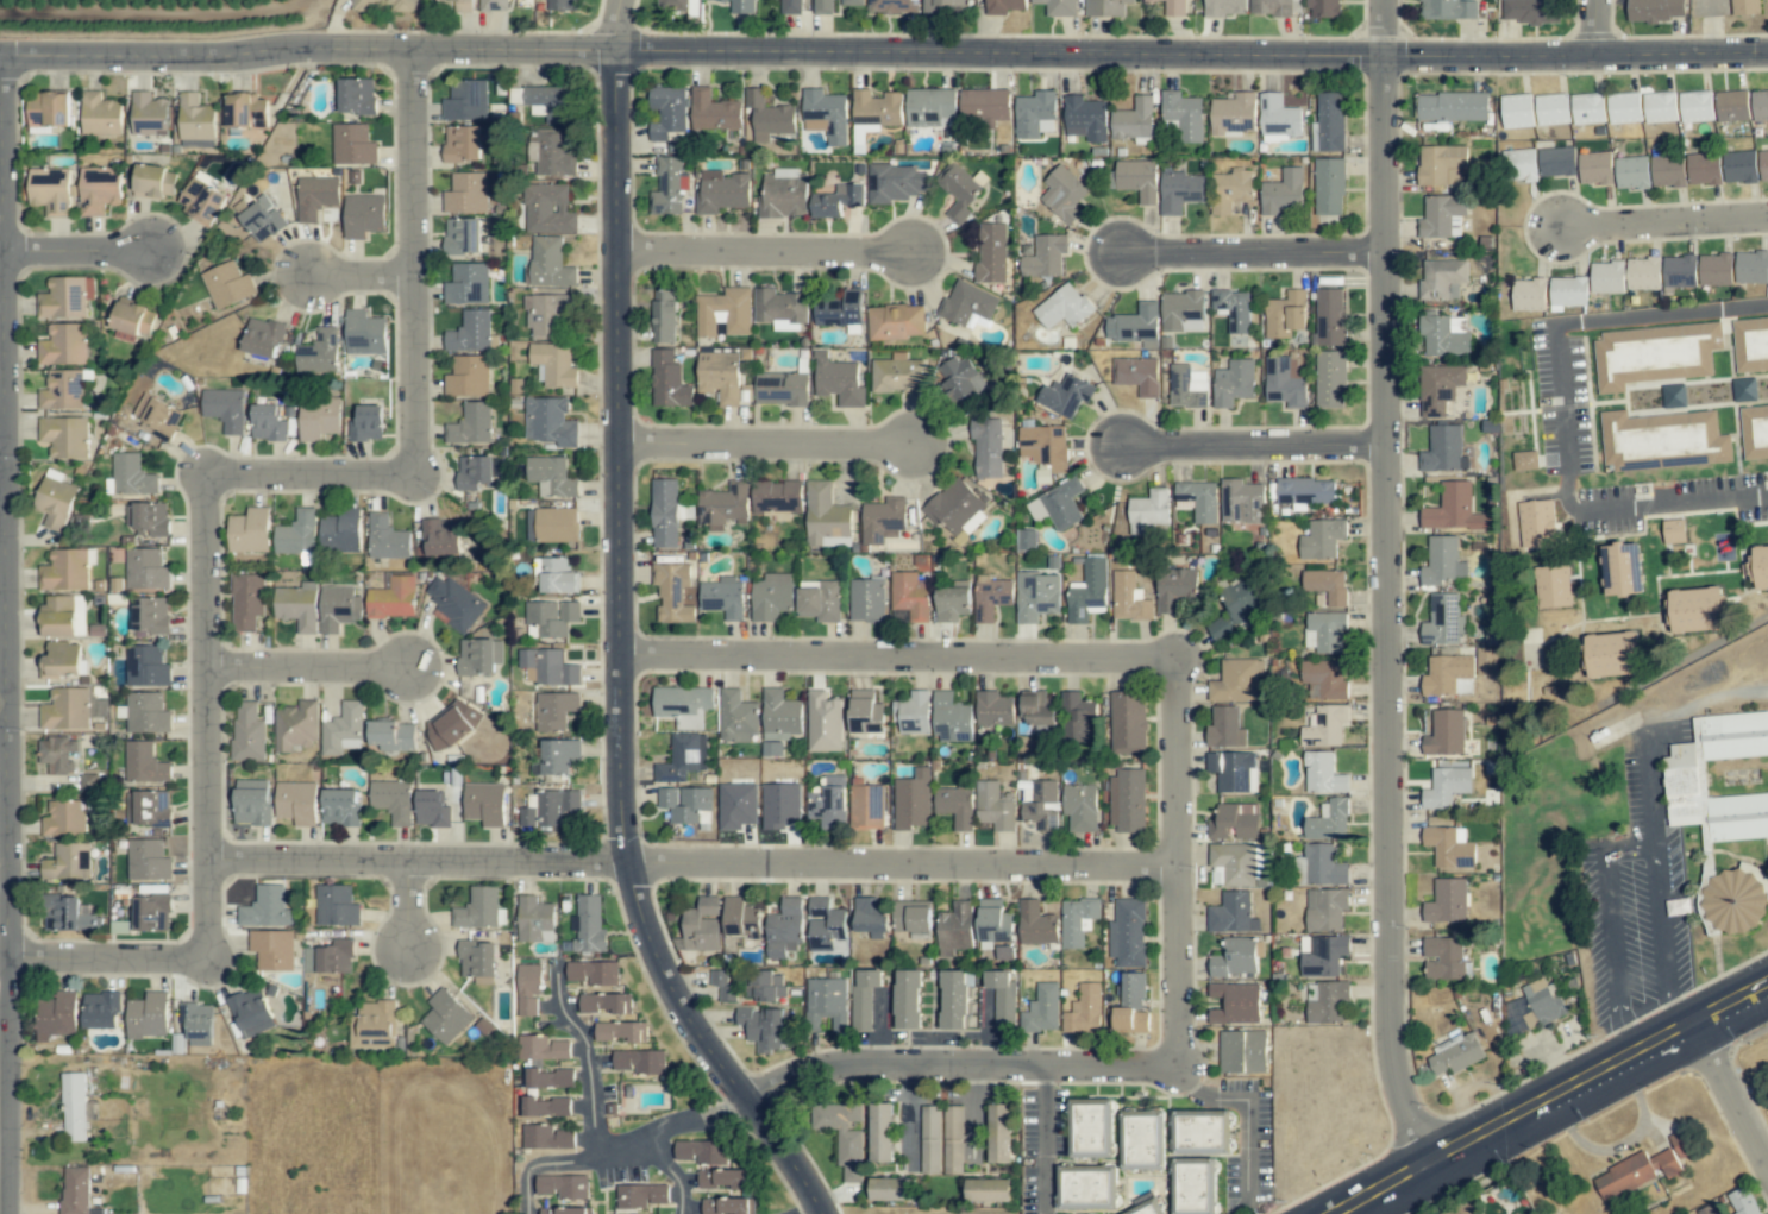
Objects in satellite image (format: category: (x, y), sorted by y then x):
building: (1172, 0)
building: (1240, 0)
building: (745, 4)
building: (384, 5)
building: (462, 5)
building: (494, 5)
building: (560, 5)
building: (892, 6)
building: (933, 6)
building: (1432, 6)
building: (1744, 7)
building: (1657, 8)
building: (1530, 11)
crop: (170, 24)
road: (1711, 26)
road: (1597, 30)
road: (884, 55)
building: (357, 96)
building: (465, 101)
building: (548, 103)
building: (984, 105)
building: (1760, 105)
building: (1695, 106)
building: (1731, 106)
building: (930, 107)
building: (1452, 107)
building: (1660, 107)
building: (1587, 108)
building: (1622, 108)
building: (48, 109)
building: (1180, 109)
building: (1551, 109)
building: (246, 111)
building: (874, 111)
building: (1517, 111)
building: (713, 112)
building: (666, 113)
building: (1228, 113)
building: (148, 114)
building: (100, 115)
building: (825, 115)
building: (769, 117)
building: (1029, 117)
building: (1278, 118)
building: (1086, 120)
building: (1133, 120)
building: (195, 121)
building: (1330, 121)
building: (462, 144)
building: (352, 145)
building: (553, 155)
building: (1555, 162)
building: (1441, 164)
building: (1521, 165)
building: (1763, 165)
building: (1739, 166)
building: (1595, 168)
building: (1704, 169)
building: (1667, 171)
building: (1631, 172)
building: (1134, 174)
building: (153, 182)
building: (896, 183)
building: (666, 187)
building: (49, 190)
building: (99, 190)
building: (958, 190)
building: (1181, 190)
building: (1229, 190)
building: (721, 191)
building: (466, 193)
building: (1064, 193)
building: (1281, 193)
building: (784, 194)
building: (315, 196)
building: (1328, 196)
building: (200, 202)
building: (827, 205)
building: (548, 209)
building: (363, 215)
building: (1442, 216)
building: (262, 219)
road: (1667, 226)
building: (462, 235)
road: (80, 251)
road: (769, 251)
building: (991, 252)
road: (1258, 253)
building: (1043, 258)
building: (550, 263)
building: (1751, 268)
building: (1714, 270)
building: (1679, 272)
building: (1643, 273)
road: (364, 275)
building: (1441, 276)
building: (1607, 277)
building: (466, 284)
building: (227, 285)
building: (1568, 291)
building: (1528, 295)
building: (65, 297)
building: (764, 297)
building: (967, 303)
building: (838, 307)
building: (1064, 307)
building: (1335, 308)
building: (1233, 309)
building: (723, 312)
building: (1181, 312)
building: (546, 314)
building: (1285, 314)
building: (663, 316)
building: (127, 317)
building: (896, 322)
building: (1134, 323)
building: (363, 333)
building: (471, 333)
building: (1443, 336)
building: (262, 338)
road: (1554, 338)
building: (63, 345)
building: (1750, 345)
building: (318, 353)
building: (1654, 354)
building: (553, 364)
building: (719, 375)
building: (1136, 375)
building: (468, 376)
building: (897, 376)
building: (959, 376)
building: (1330, 377)
building: (838, 380)
building: (667, 382)
building: (1233, 383)
building: (1186, 386)
building: (1286, 386)
building: (1438, 388)
building: (782, 389)
building: (61, 390)
building: (1744, 390)
building: (1065, 395)
building: (1674, 396)
building: (225, 409)
building: (153, 416)
building: (318, 419)
building: (550, 422)
building: (267, 423)
building: (366, 423)
building: (470, 424)
building: (1754, 432)
building: (63, 436)
building: (1662, 440)
road: (769, 442)
building: (1042, 445)
road: (1260, 445)
road: (2, 446)
building: (986, 448)
building: (1443, 448)
building: (1524, 460)
building: (474, 472)
building: (1042, 473)
building: (131, 476)
building: (551, 477)
building: (1300, 491)
building: (777, 497)
building: (54, 499)
building: (1197, 501)
building: (727, 502)
building: (1241, 502)
road: (1697, 503)
building: (1060, 504)
building: (1449, 507)
building: (955, 508)
road: (208, 510)
building: (1148, 511)
building: (665, 512)
building: (826, 515)
building: (883, 517)
building: (148, 518)
building: (1536, 523)
building: (556, 524)
building: (249, 530)
building: (340, 531)
building: (1674, 531)
building: (296, 533)
building: (385, 537)
building: (441, 537)
building: (1024, 539)
building: (1322, 539)
building: (1442, 560)
building: (1760, 566)
building: (145, 568)
building: (65, 570)
building: (1620, 570)
building: (557, 575)
road: (1392, 584)
building: (1327, 585)
building: (1554, 586)
building: (671, 591)
building: (1086, 591)
building: (772, 596)
building: (1036, 596)
building: (723, 597)
building: (990, 597)
building: (393, 598)
building: (908, 598)
building: (1128, 598)
building: (1241, 599)
building: (866, 600)
building: (246, 602)
building: (820, 602)
building: (454, 603)
building: (952, 603)
building: (297, 606)
building: (338, 609)
building: (1694, 610)
building: (62, 616)
building: (151, 616)
building: (550, 618)
building: (1442, 619)
building: (1220, 629)
building: (1324, 631)
road: (623, 634)
road: (6, 635)
road: (902, 655)
building: (1612, 655)
building: (476, 656)
building: (61, 661)
building: (1486, 661)
building: (145, 666)
road: (309, 667)
building: (547, 667)
building: (1454, 667)
building: (1322, 680)
building: (1236, 681)
building: (675, 702)
road: (4, 704)
building: (70, 709)
building: (993, 709)
building: (554, 710)
building: (861, 710)
building: (1037, 710)
building: (821, 711)
building: (913, 712)
building: (146, 713)
building: (779, 715)
building: (1076, 716)
building: (735, 717)
building: (951, 718)
building: (296, 725)
building: (452, 725)
building: (1128, 725)
building: (1325, 726)
building: (1224, 728)
road: (1651, 728)
building: (341, 729)
building: (247, 732)
building: (1444, 734)
building: (391, 736)
building: (771, 748)
building: (57, 754)
building: (558, 756)
building: (683, 757)
building: (144, 765)
building: (1233, 770)
building: (1319, 772)
building: (1685, 776)
building: (1446, 786)
building: (1135, 794)
building: (391, 800)
building: (911, 800)
building: (251, 801)
building: (296, 803)
building: (828, 803)
building: (484, 804)
building: (686, 804)
building: (736, 805)
building: (780, 805)
building: (954, 805)
building: (866, 806)
building: (995, 806)
building: (340, 807)
building: (1079, 807)
building: (146, 809)
building: (431, 809)
building: (548, 809)
building: (63, 818)
building: (1234, 820)
building: (1328, 823)
building: (1448, 847)
road: (1183, 858)
building: (148, 860)
road: (696, 860)
building: (67, 862)
building: (1234, 862)
building: (1319, 867)
building: (1736, 899)
road: (412, 901)
building: (1447, 901)
building: (336, 906)
building: (265, 908)
building: (819, 908)
building: (479, 910)
building: (1324, 910)
building: (151, 912)
building: (69, 914)
building: (1228, 916)
building: (739, 917)
building: (869, 917)
building: (911, 918)
building: (534, 919)
building: (1077, 920)
building: (963, 921)
building: (993, 923)
building: (587, 924)
building: (1035, 924)
building: (701, 925)
building: (783, 929)
building: (1128, 933)
road: (1610, 933)
road: (1660, 939)
building: (271, 950)
building: (1321, 956)
building: (330, 957)
building: (1235, 957)
building: (1443, 958)
building: (477, 961)
building: (591, 973)
building: (722, 983)
building: (761, 986)
building: (528, 988)
building: (1131, 989)
building: (826, 998)
building: (863, 998)
building: (905, 999)
building: (954, 999)
building: (1002, 1000)
building: (1543, 1001)
building: (1233, 1002)
building: (1328, 1002)
building: (602, 1004)
building: (100, 1009)
building: (1042, 1009)
building: (1084, 1011)
building: (251, 1012)
building: (56, 1015)
building: (148, 1015)
building: (445, 1017)
building: (1129, 1020)
building: (196, 1023)
building: (372, 1025)
building: (761, 1026)
building: (615, 1031)
building: (1242, 1053)
building: (1454, 1056)
building: (640, 1061)
road: (966, 1061)
building: (532, 1063)
road: (1730, 1094)
road: (1550, 1097)
building: (75, 1107)
building: (544, 1107)
road: (1242, 1114)
building: (835, 1115)
building: (1198, 1128)
building: (1090, 1130)
building: (880, 1132)
building: (998, 1133)
building: (547, 1137)
road: (1040, 1137)
building: (929, 1139)
building: (952, 1139)
building: (1140, 1140)
road: (596, 1145)
building: (701, 1152)
building: (849, 1157)
building: (1666, 1162)
road: (538, 1164)
building: (1625, 1175)
road: (670, 1177)
building: (721, 1178)
building: (563, 1185)
building: (1191, 1185)
building: (894, 1188)
building: (1085, 1188)
building: (75, 1190)
building: (988, 1190)
building: (642, 1195)
building: (726, 1206)
building: (1147, 1208)
building: (1709, 1209)
building: (563, 1210)
building: (1749, 1212)

